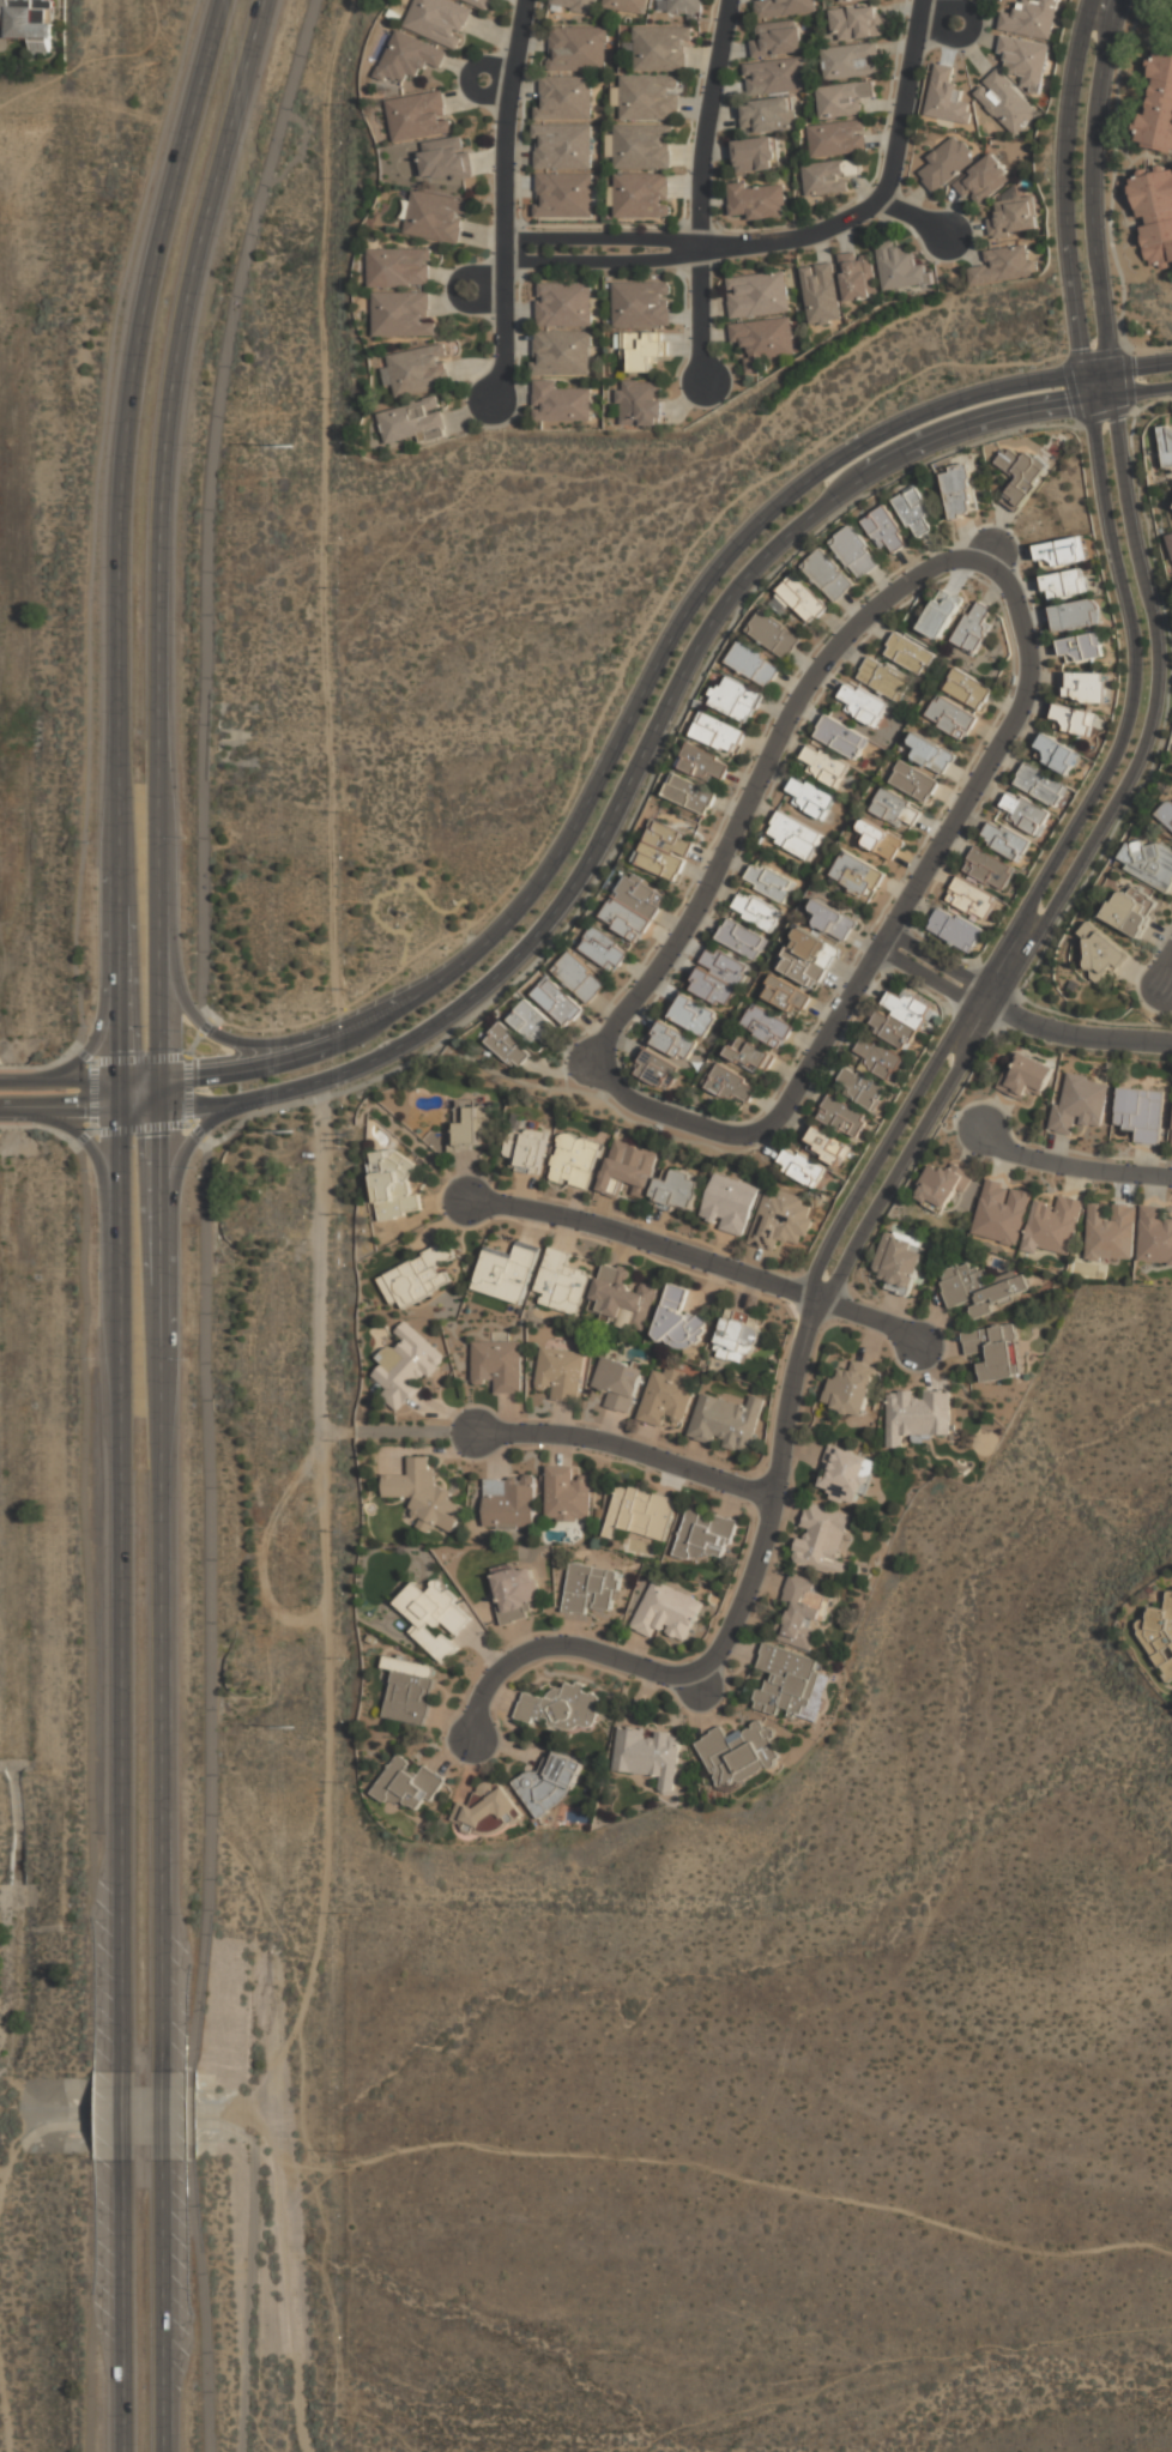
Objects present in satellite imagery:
building: (848, 1)
building: (478, 4)
building: (574, 6)
building: (628, 6)
building: (684, 7)
building: (784, 8)
building: (1032, 18)
building: (29, 20)
building: (437, 22)
building: (857, 23)
road: (940, 23)
building: (777, 42)
building: (575, 52)
building: (660, 52)
building: (410, 59)
building: (1025, 60)
building: (851, 61)
building: (773, 78)
building: (947, 96)
building: (648, 99)
building: (844, 99)
building: (562, 101)
building: (1007, 102)
building: (1158, 108)
building: (767, 116)
building: (418, 117)
road: (705, 125)
building: (839, 139)
building: (562, 149)
building: (642, 149)
building: (755, 157)
building: (446, 161)
building: (947, 164)
road: (1113, 173)
building: (830, 176)
building: (984, 182)
road: (1089, 183)
road: (1064, 186)
road: (883, 194)
building: (563, 197)
building: (641, 198)
building: (756, 201)
road: (505, 203)
building: (1154, 213)
road: (914, 218)
building: (1014, 218)
building: (436, 219)
road: (603, 238)
road: (602, 261)
building: (1004, 266)
building: (398, 270)
building: (858, 280)
road: (455, 289)
building: (757, 296)
building: (564, 306)
building: (641, 306)
building: (401, 315)
road: (700, 319)
building: (763, 343)
road: (1122, 348)
building: (641, 352)
road: (226, 354)
building: (561, 355)
road: (1140, 366)
building: (417, 369)
road: (1095, 372)
road: (1110, 382)
road: (1141, 389)
road: (1100, 397)
building: (560, 404)
road: (1153, 404)
building: (640, 405)
building: (412, 422)
road: (971, 423)
building: (1166, 443)
power tower: (288, 446)
building: (1021, 476)
road: (840, 490)
building: (960, 491)
building: (916, 512)
building: (887, 531)
building: (1170, 537)
building: (856, 551)
building: (1063, 551)
road: (992, 568)
building: (828, 575)
building: (1065, 584)
building: (799, 599)
building: (941, 615)
building: (1076, 615)
building: (974, 626)
building: (774, 635)
building: (1081, 648)
building: (908, 653)
building: (754, 664)
building: (884, 678)
building: (1085, 687)
building: (967, 688)
building: (736, 699)
road: (1131, 701)
building: (862, 703)
building: (952, 717)
road: (1148, 719)
building: (1075, 720)
road: (622, 732)
building: (719, 733)
building: (841, 737)
building: (931, 754)
building: (1057, 754)
building: (703, 763)
building: (823, 766)
building: (914, 781)
road: (647, 783)
building: (1040, 785)
building: (689, 793)
building: (810, 797)
building: (896, 809)
building: (1026, 814)
building: (1166, 814)
building: (795, 835)
building: (880, 839)
building: (1004, 840)
building: (664, 848)
building: (1152, 864)
road: (203, 870)
building: (989, 870)
building: (857, 876)
road: (923, 876)
building: (768, 882)
road: (562, 898)
building: (972, 899)
building: (633, 908)
building: (755, 911)
building: (1130, 912)
building: (832, 920)
building: (955, 929)
road: (677, 935)
building: (741, 938)
building: (603, 950)
building: (1101, 953)
building: (808, 958)
road: (935, 961)
road: (1166, 971)
building: (579, 977)
building: (718, 977)
road: (925, 977)
road: (105, 996)
building: (786, 996)
road: (984, 1001)
building: (557, 1002)
building: (694, 1015)
building: (900, 1017)
building: (532, 1022)
building: (767, 1026)
road: (119, 1032)
road: (158, 1033)
road: (1079, 1035)
road: (199, 1037)
building: (673, 1041)
road: (260, 1046)
building: (508, 1046)
road: (84, 1053)
building: (750, 1055)
building: (878, 1058)
building: (654, 1068)
road: (803, 1076)
building: (1026, 1076)
road: (60, 1081)
traffic signals: (120, 1081)
road: (139, 1081)
traffic signals: (158, 1081)
building: (732, 1086)
building: (860, 1088)
road: (188, 1089)
road: (93, 1098)
building: (1080, 1104)
road: (139, 1110)
traffic signals: (159, 1110)
road: (59, 1111)
traffic signals: (120, 1111)
road: (314, 1112)
building: (1141, 1113)
building: (842, 1117)
building: (472, 1123)
road: (197, 1133)
road: (84, 1136)
road: (84, 1137)
road: (887, 1145)
building: (827, 1146)
building: (526, 1150)
road: (905, 1153)
building: (575, 1160)
road: (1074, 1164)
building: (801, 1167)
building: (629, 1171)
building: (393, 1184)
building: (943, 1185)
building: (678, 1190)
building: (730, 1203)
building: (1002, 1212)
building: (781, 1220)
road: (173, 1224)
building: (1053, 1227)
building: (1111, 1233)
building: (1155, 1236)
road: (204, 1256)
road: (700, 1257)
building: (899, 1263)
building: (506, 1273)
building: (417, 1276)
building: (563, 1284)
building: (981, 1287)
building: (622, 1298)
building: (678, 1322)
building: (737, 1339)
building: (995, 1352)
building: (407, 1366)
building: (497, 1366)
building: (560, 1373)
building: (617, 1385)
building: (852, 1389)
building: (665, 1397)
building: (917, 1415)
building: (726, 1423)
road: (627, 1449)
building: (845, 1475)
building: (423, 1494)
building: (567, 1496)
building: (508, 1504)
building: (641, 1514)
building: (706, 1535)
building: (822, 1540)
building: (591, 1590)
building: (515, 1595)
building: (667, 1612)
building: (804, 1613)
building: (435, 1617)
building: (1160, 1636)
road: (726, 1638)
road: (321, 1639)
building: (789, 1679)
building: (410, 1690)
building: (817, 1699)
building: (562, 1708)
road: (207, 1722)
power tower: (295, 1728)
building: (739, 1753)
building: (650, 1756)
building: (550, 1781)
building: (410, 1786)
building: (485, 1789)
building: (488, 1811)
road: (193, 2115)
road: (123, 2118)
road: (161, 2121)
road: (134, 2124)
road: (10, 2161)
road: (715, 2173)
park: (747, 2186)
park: (46, 2218)
road: (248, 2299)
road: (206, 2303)
road: (123, 2306)
road: (161, 2307)

